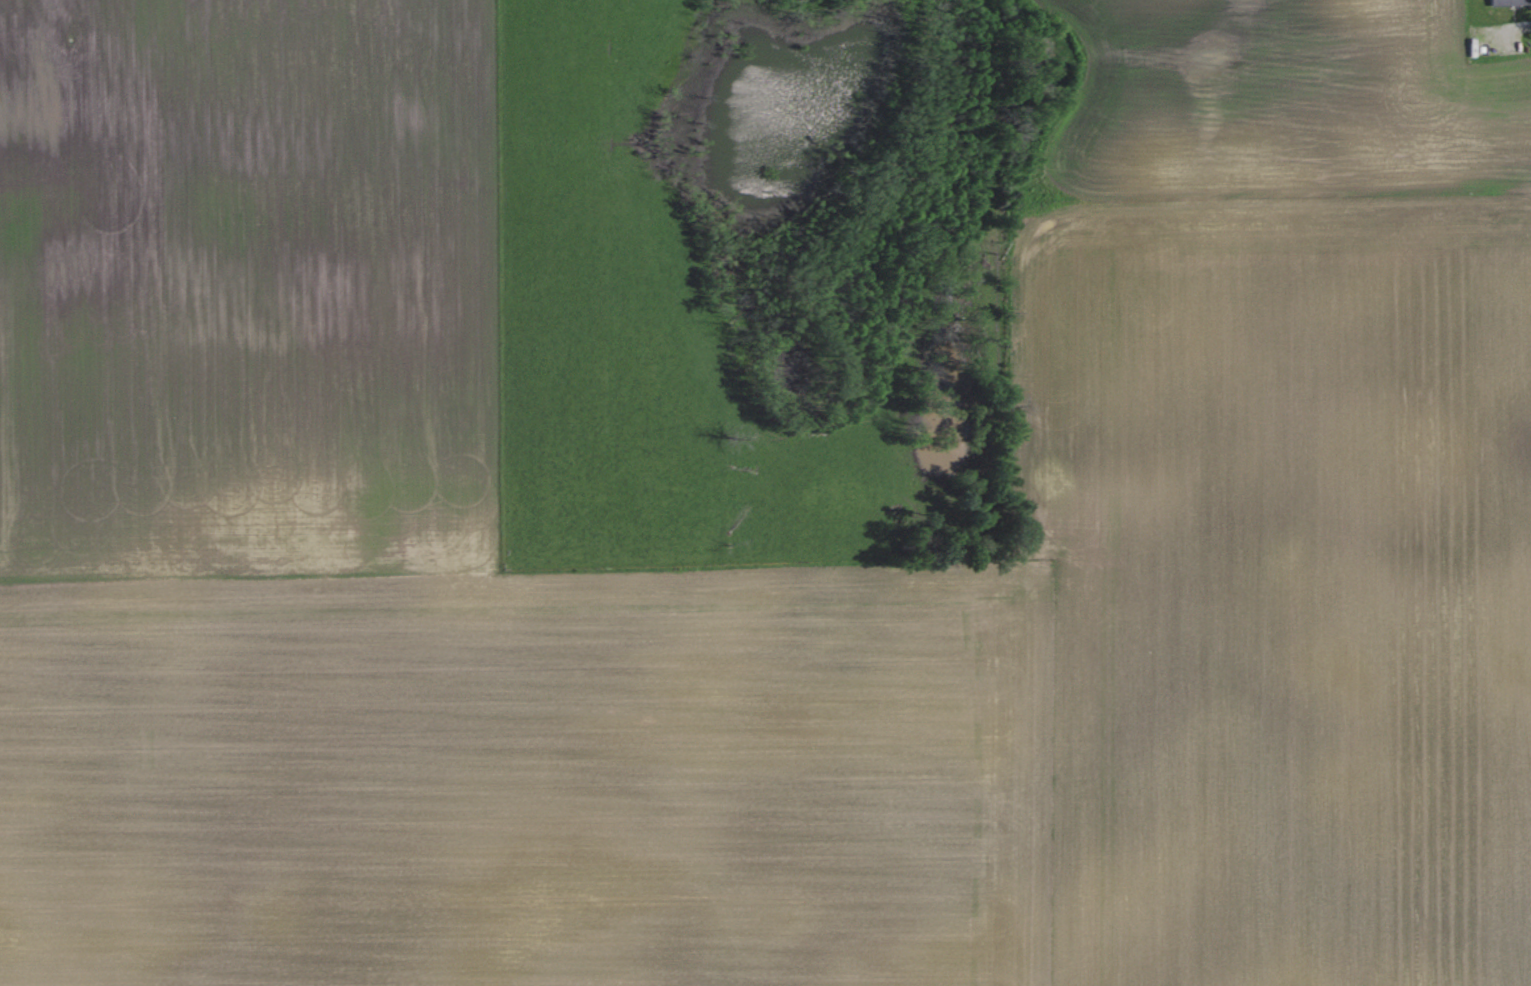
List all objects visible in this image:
building: (1509, 2)
road: (1516, 26)

